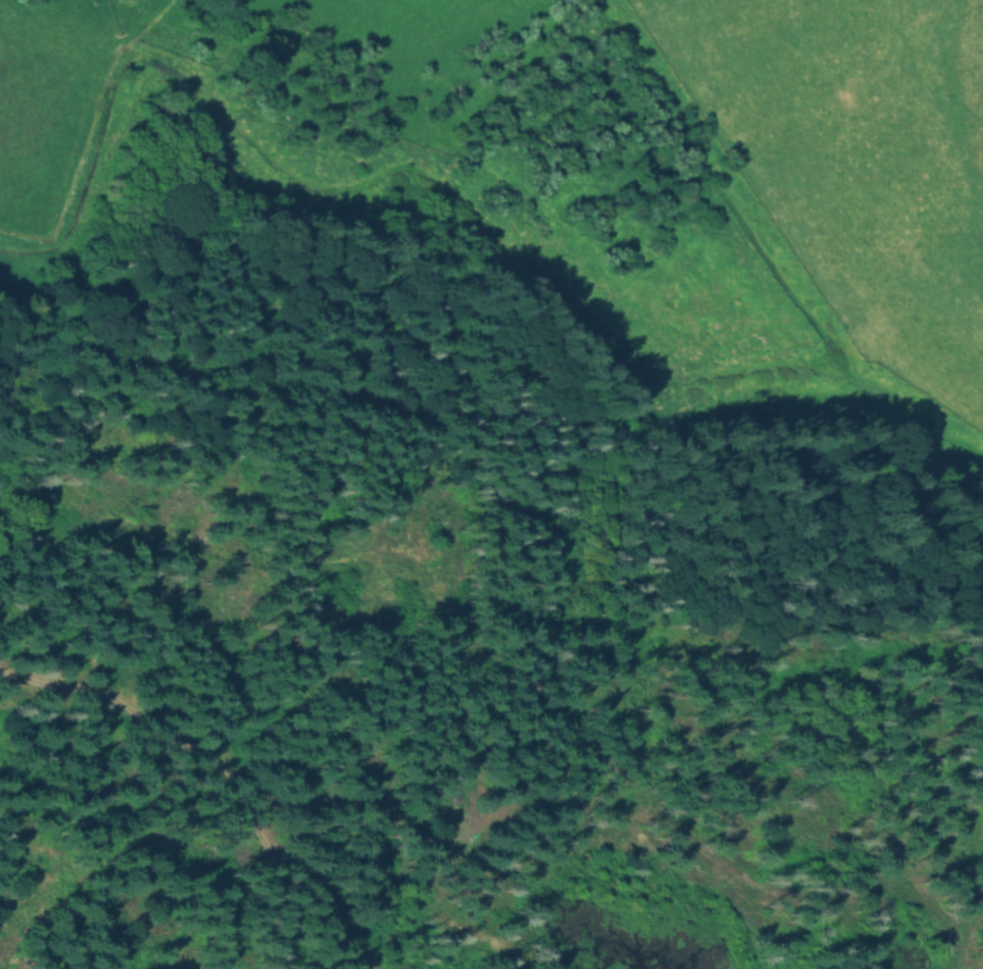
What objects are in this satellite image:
road: (226, 761)

